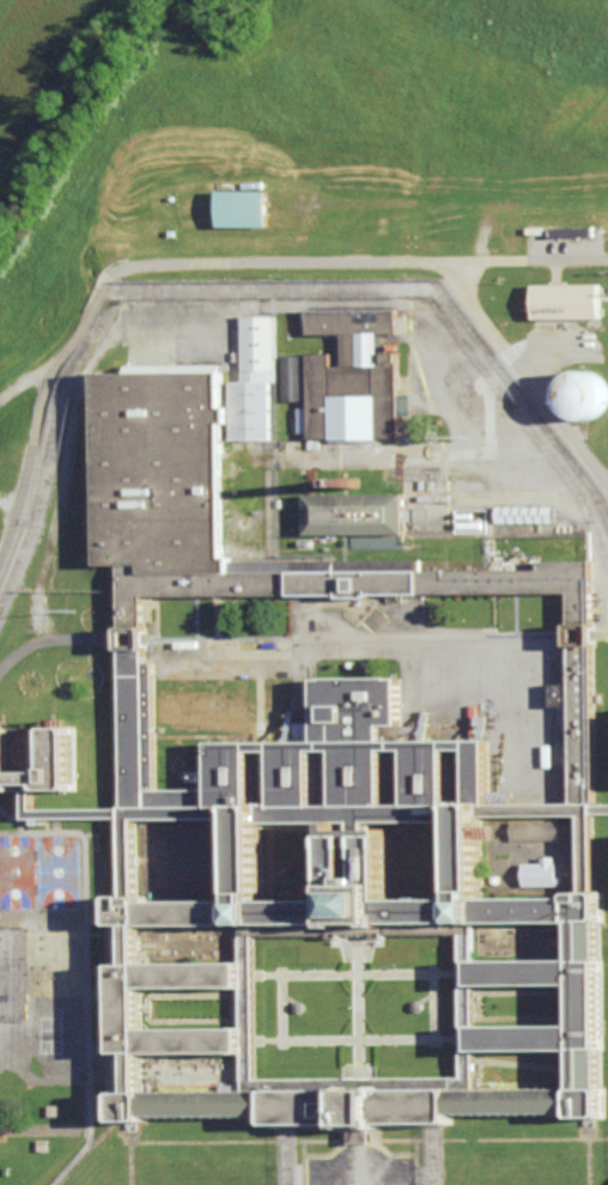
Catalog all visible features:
building: (245, 206)
building: (174, 231)
building: (567, 300)
building: (296, 377)
building: (256, 379)
building: (357, 379)
building: (584, 393)
building: (525, 513)
building: (360, 518)
building: (469, 521)
building: (309, 794)
building: (535, 829)
park: (17, 871)
park: (59, 871)
building: (101, 918)
building: (41, 941)
building: (103, 970)
building: (420, 1004)
building: (300, 1005)
building: (51, 1110)
building: (42, 1145)

